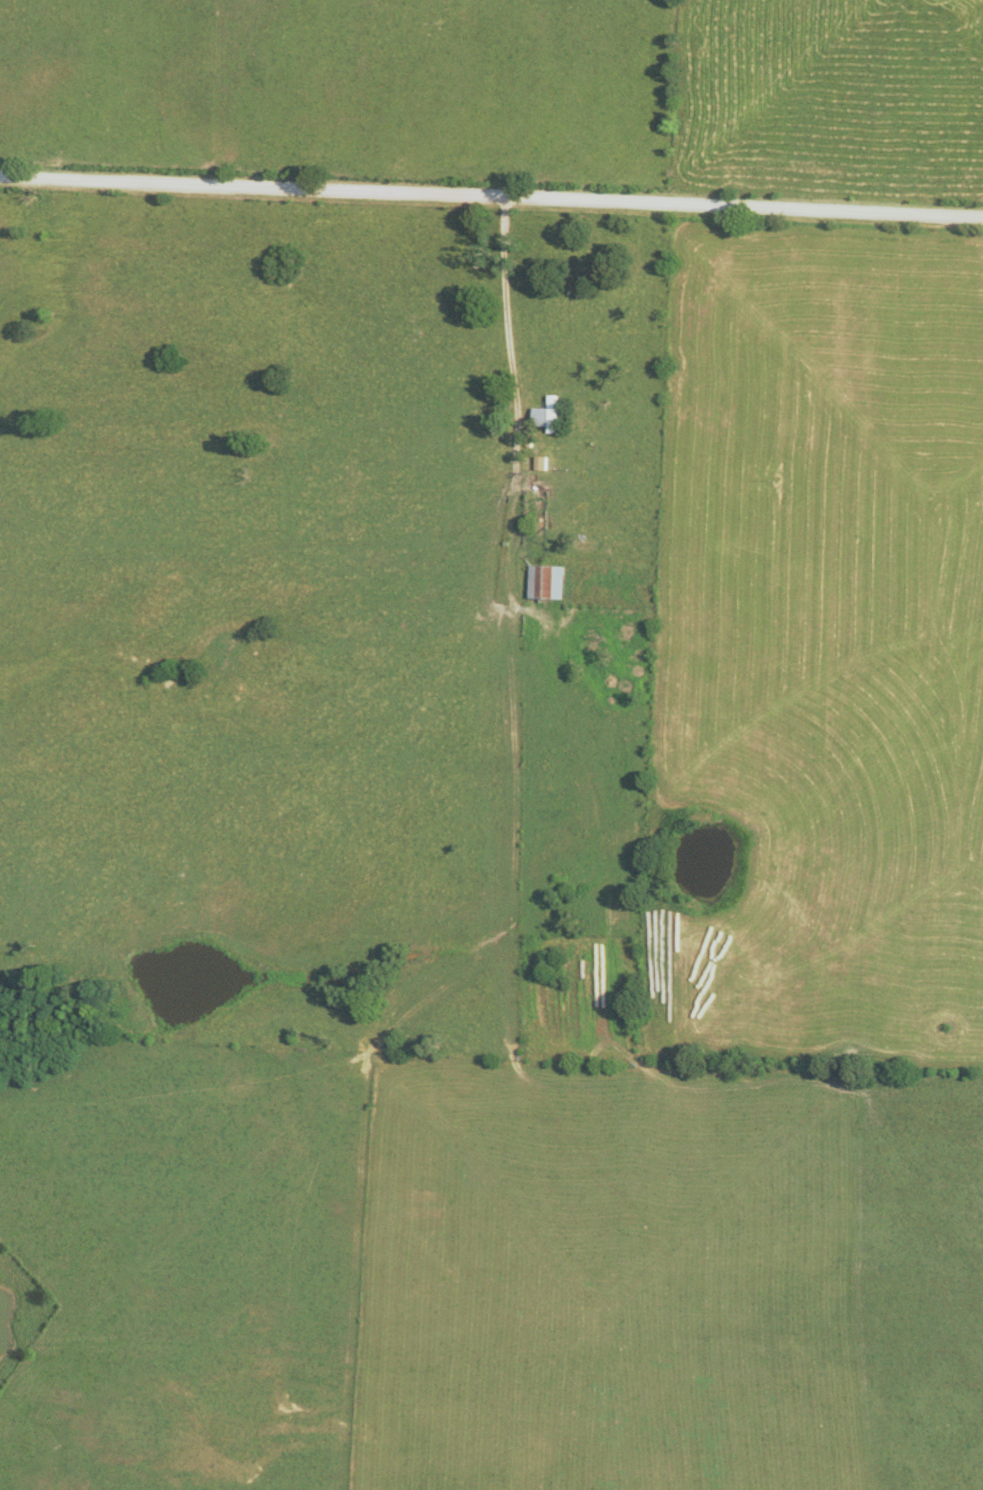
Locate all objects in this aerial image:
road: (491, 193)
road: (513, 394)
building: (551, 416)
building: (550, 581)

